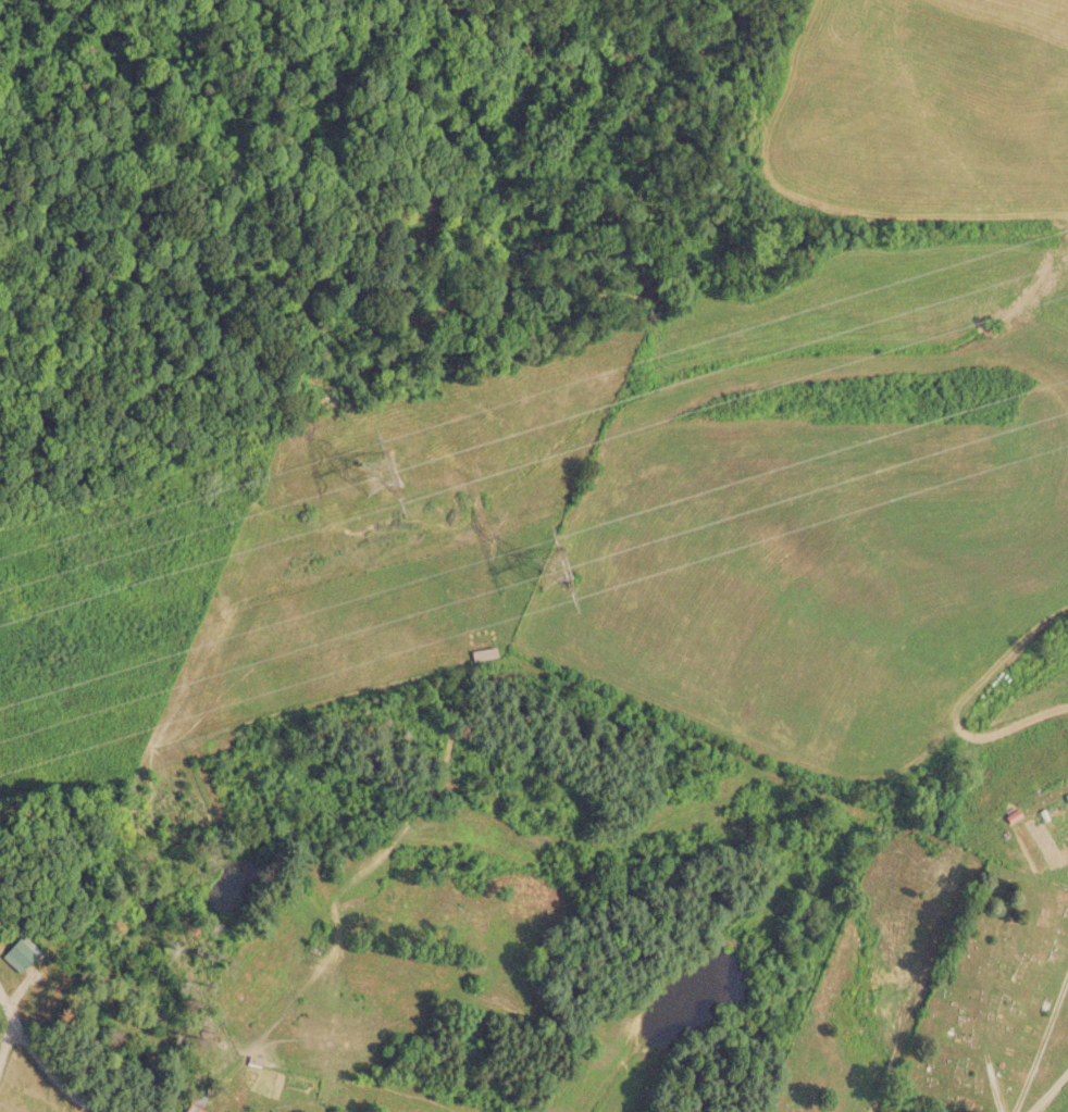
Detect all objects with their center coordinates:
power tower: (399, 480)
power tower: (562, 569)
building: (17, 954)
road: (9, 1025)
road: (42, 1054)
road: (994, 1083)

